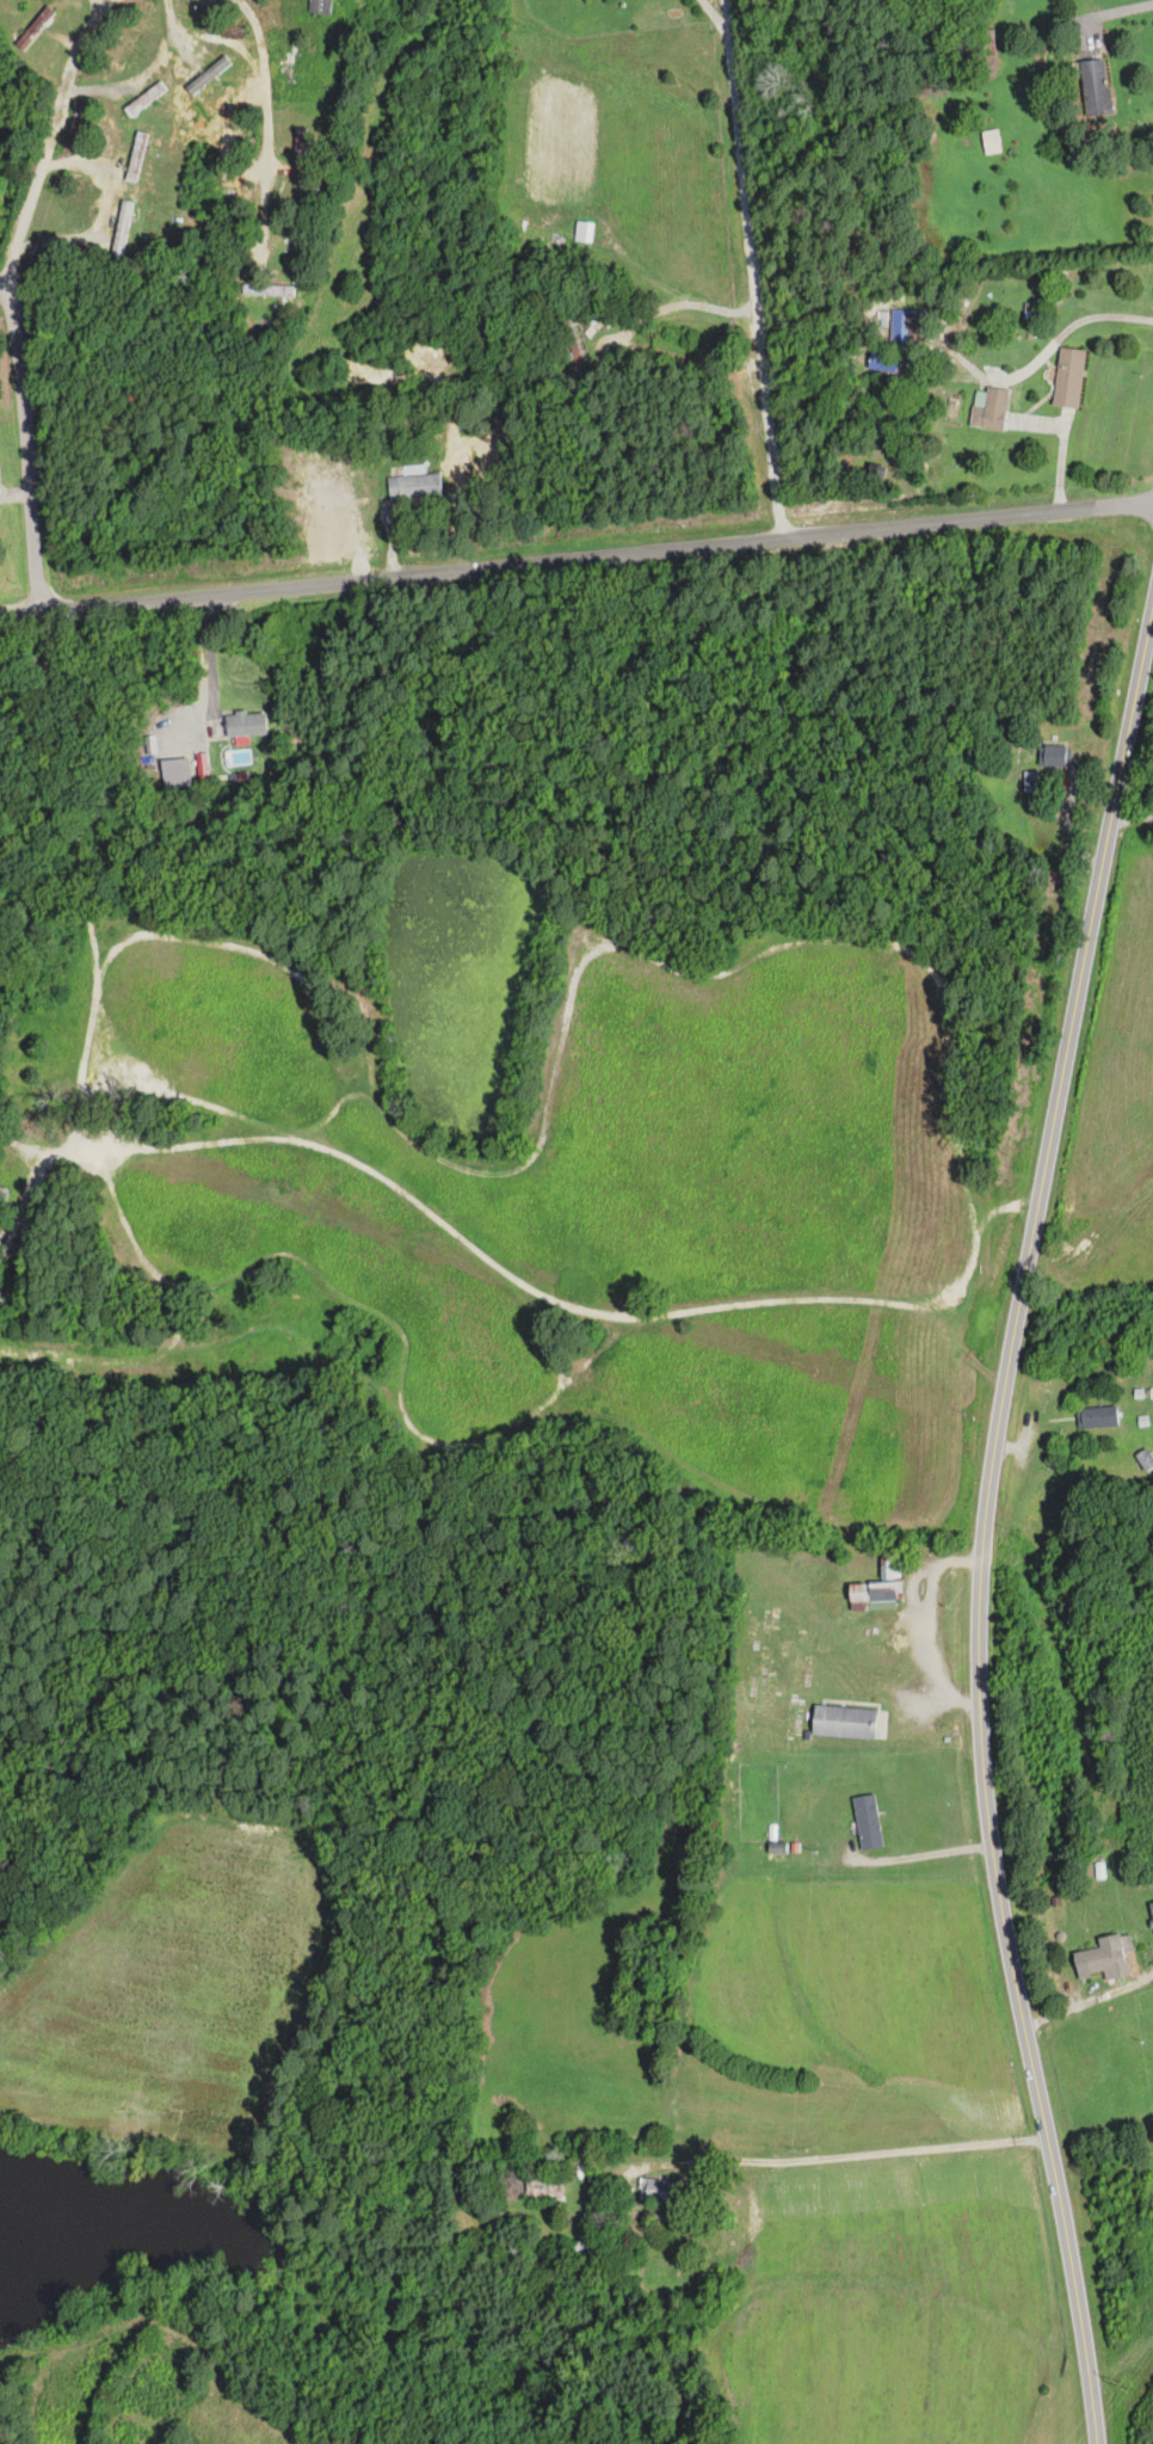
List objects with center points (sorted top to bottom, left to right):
building: (321, 7)
road: (722, 23)
building: (982, 43)
building: (208, 75)
building: (1096, 87)
road: (276, 117)
building: (991, 142)
road: (64, 147)
building: (136, 156)
building: (298, 156)
building: (122, 228)
building: (584, 232)
road: (759, 267)
building: (266, 290)
building: (907, 325)
building: (1068, 377)
building: (989, 408)
road: (25, 453)
building: (414, 486)
road: (575, 558)
road: (211, 661)
building: (245, 722)
building: (1055, 755)
building: (1030, 782)
building: (2, 1195)
building: (1, 1295)
building: (1097, 1417)
building: (1145, 1459)
road: (988, 1551)
building: (880, 1581)
building: (844, 1722)
building: (868, 1822)
building: (777, 1851)
road: (920, 1854)
building: (1151, 1910)
building: (1109, 1956)
road: (1092, 2001)
road: (884, 2151)
building: (530, 2186)
building: (659, 2191)
building: (568, 2247)
building: (514, 2251)
power tower: (1118, 2388)

